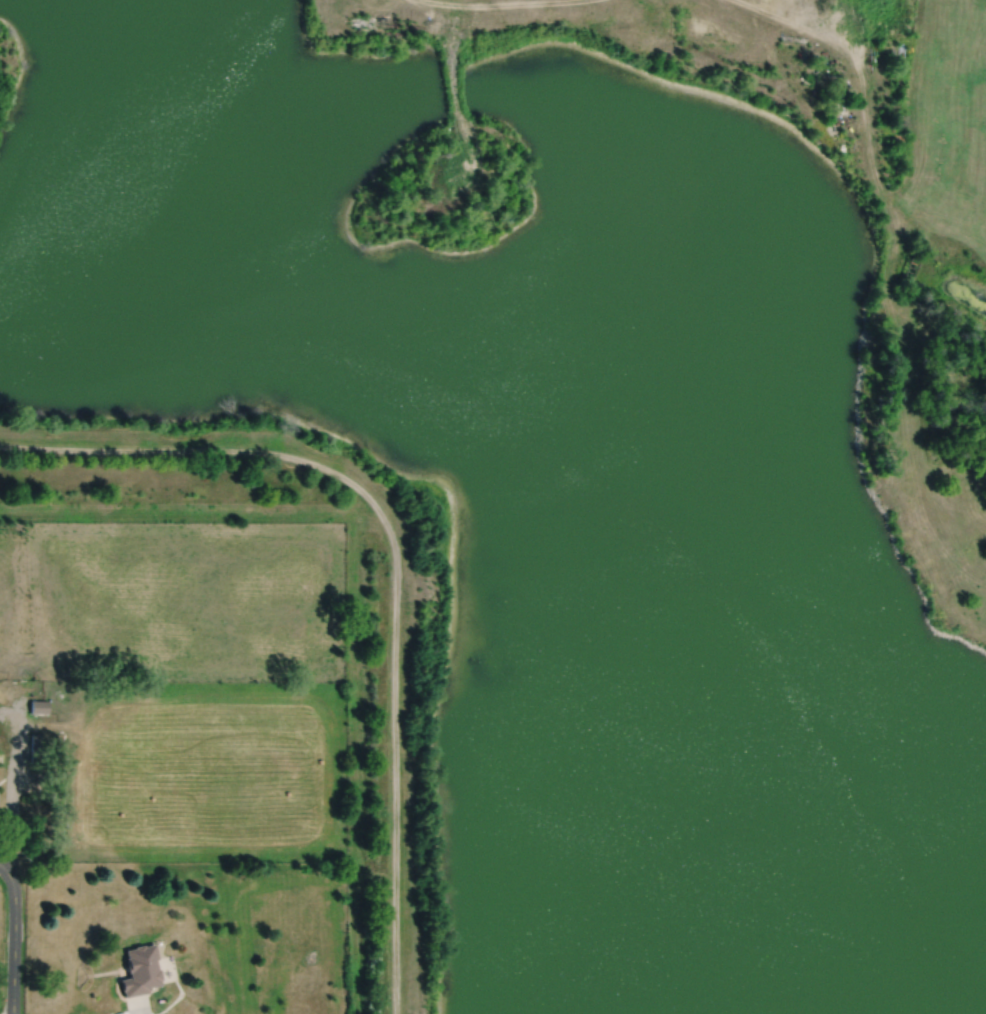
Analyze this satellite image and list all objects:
road: (498, 4)
road: (455, 102)
road: (865, 117)
road: (395, 562)
building: (39, 706)
building: (35, 739)
building: (37, 753)
road: (14, 782)
road: (1, 864)
road: (13, 938)
building: (139, 969)
road: (147, 1013)

